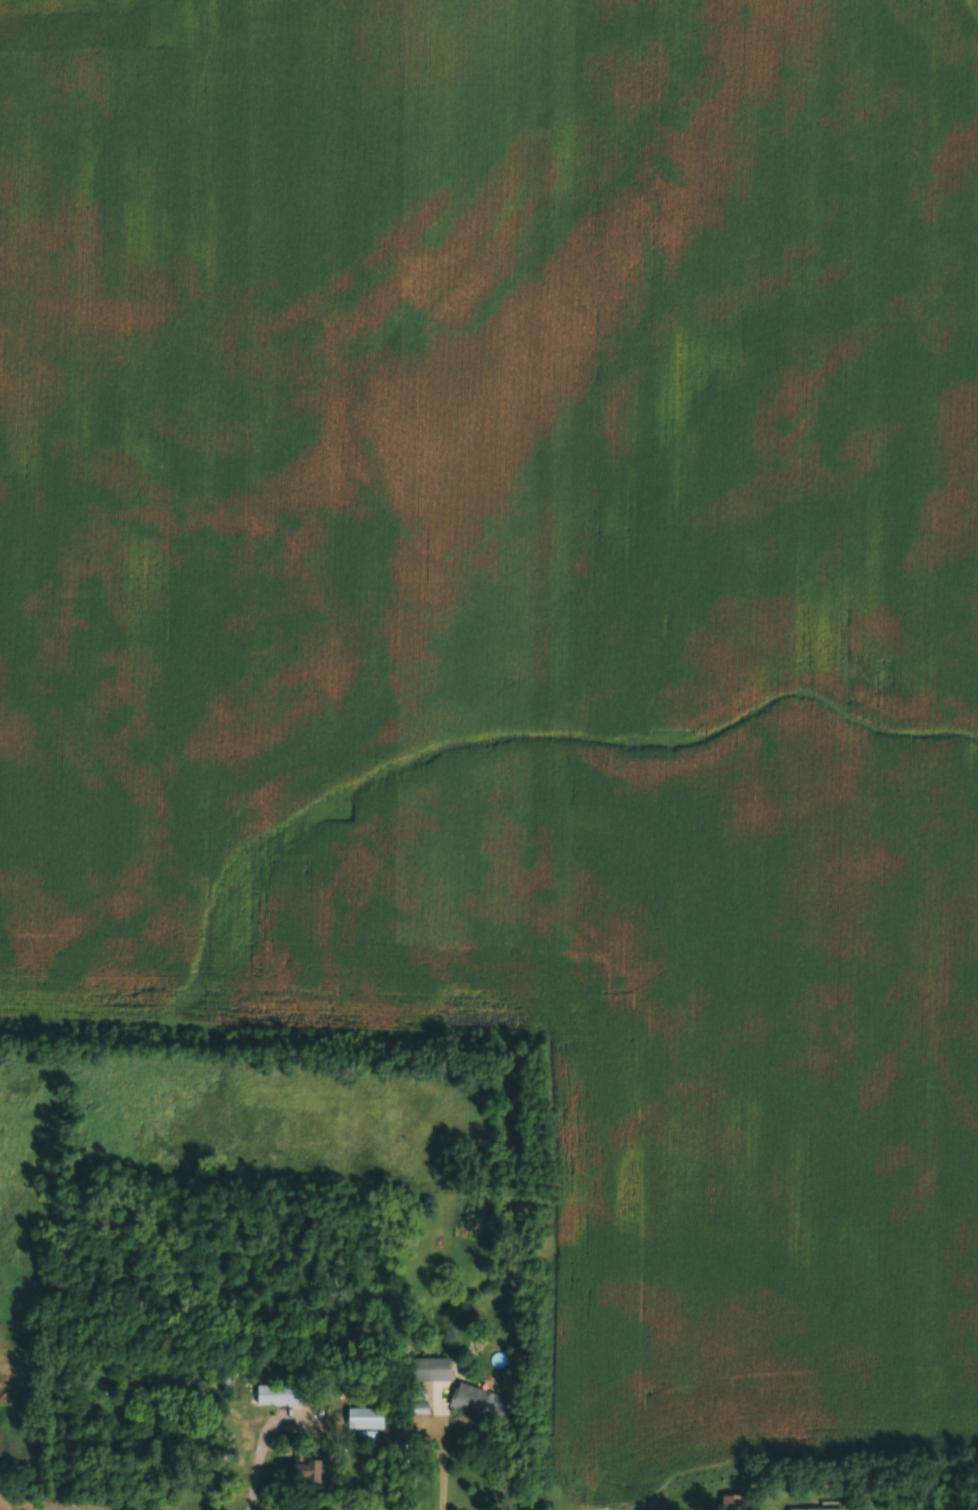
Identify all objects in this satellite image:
building: (429, 1369)
building: (277, 1394)
building: (478, 1403)
building: (363, 1417)
road: (265, 1443)
building: (301, 1470)
road: (442, 1475)
building: (811, 1509)

